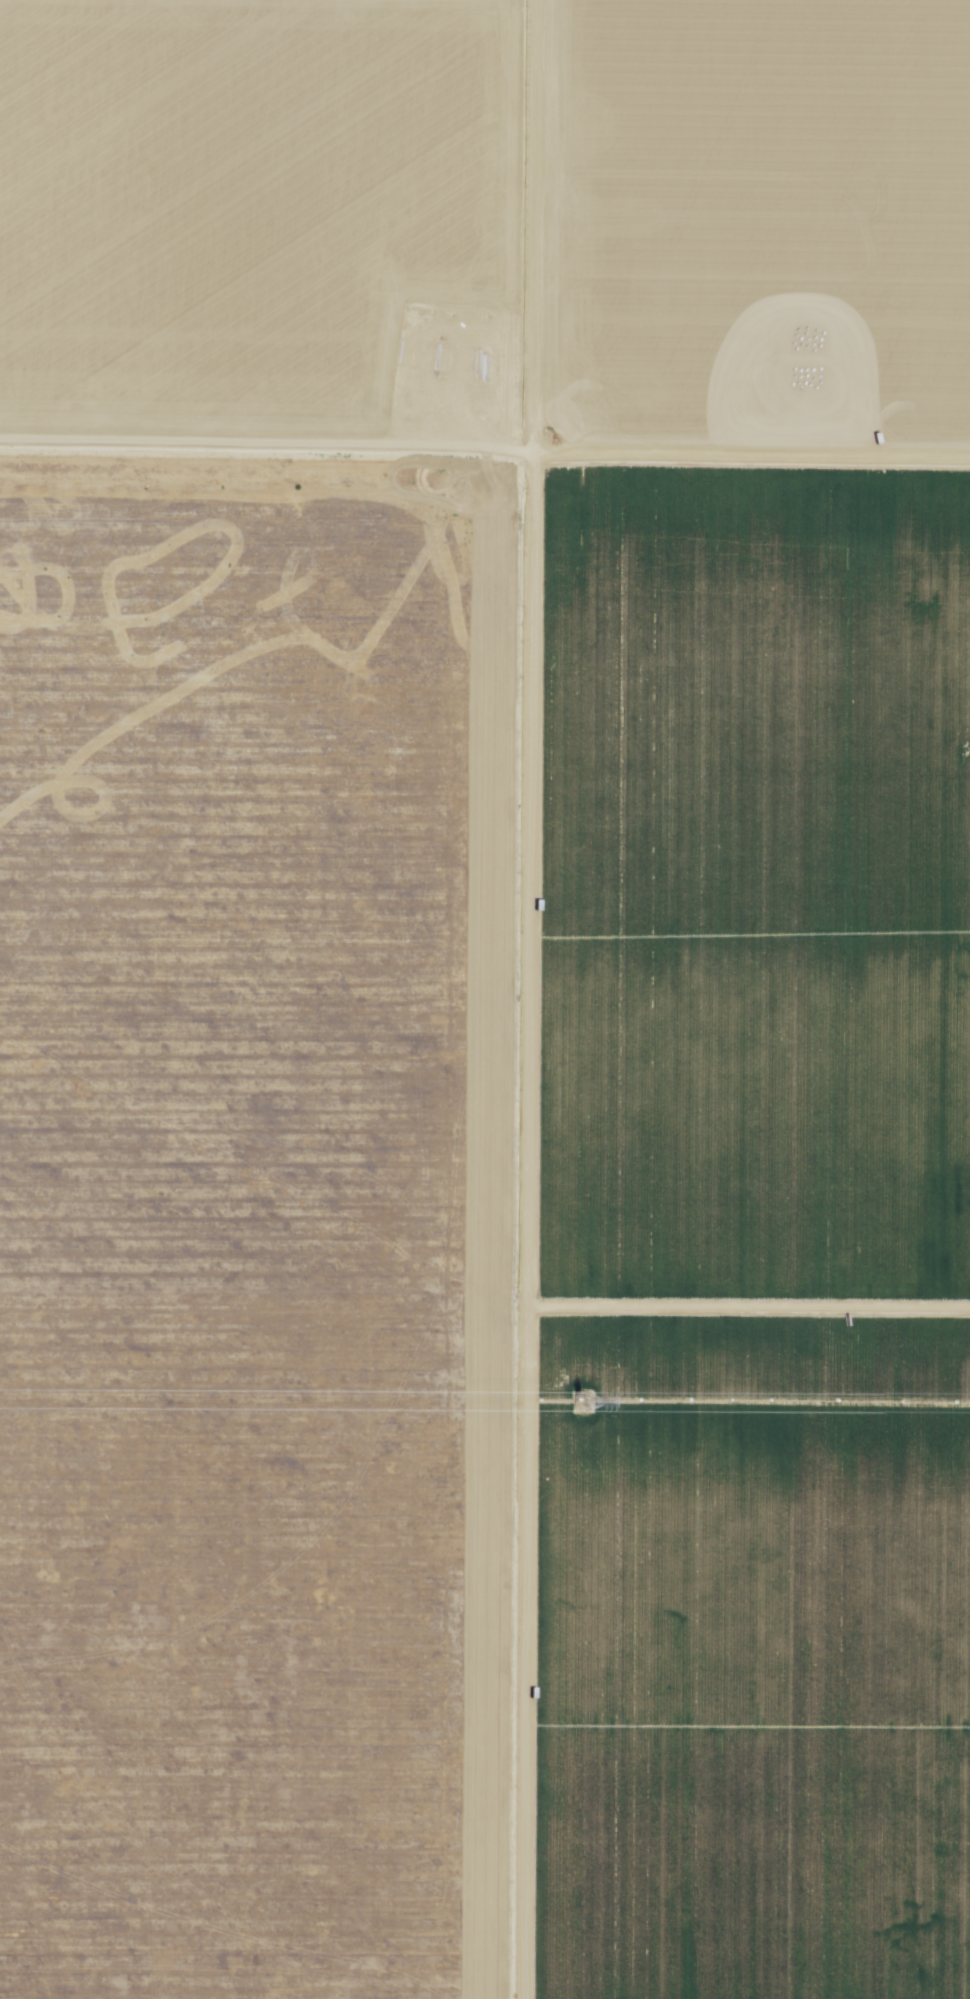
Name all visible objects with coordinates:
road: (485, 446)
road: (547, 999)
crop: (742, 1238)
power tower: (579, 1402)

